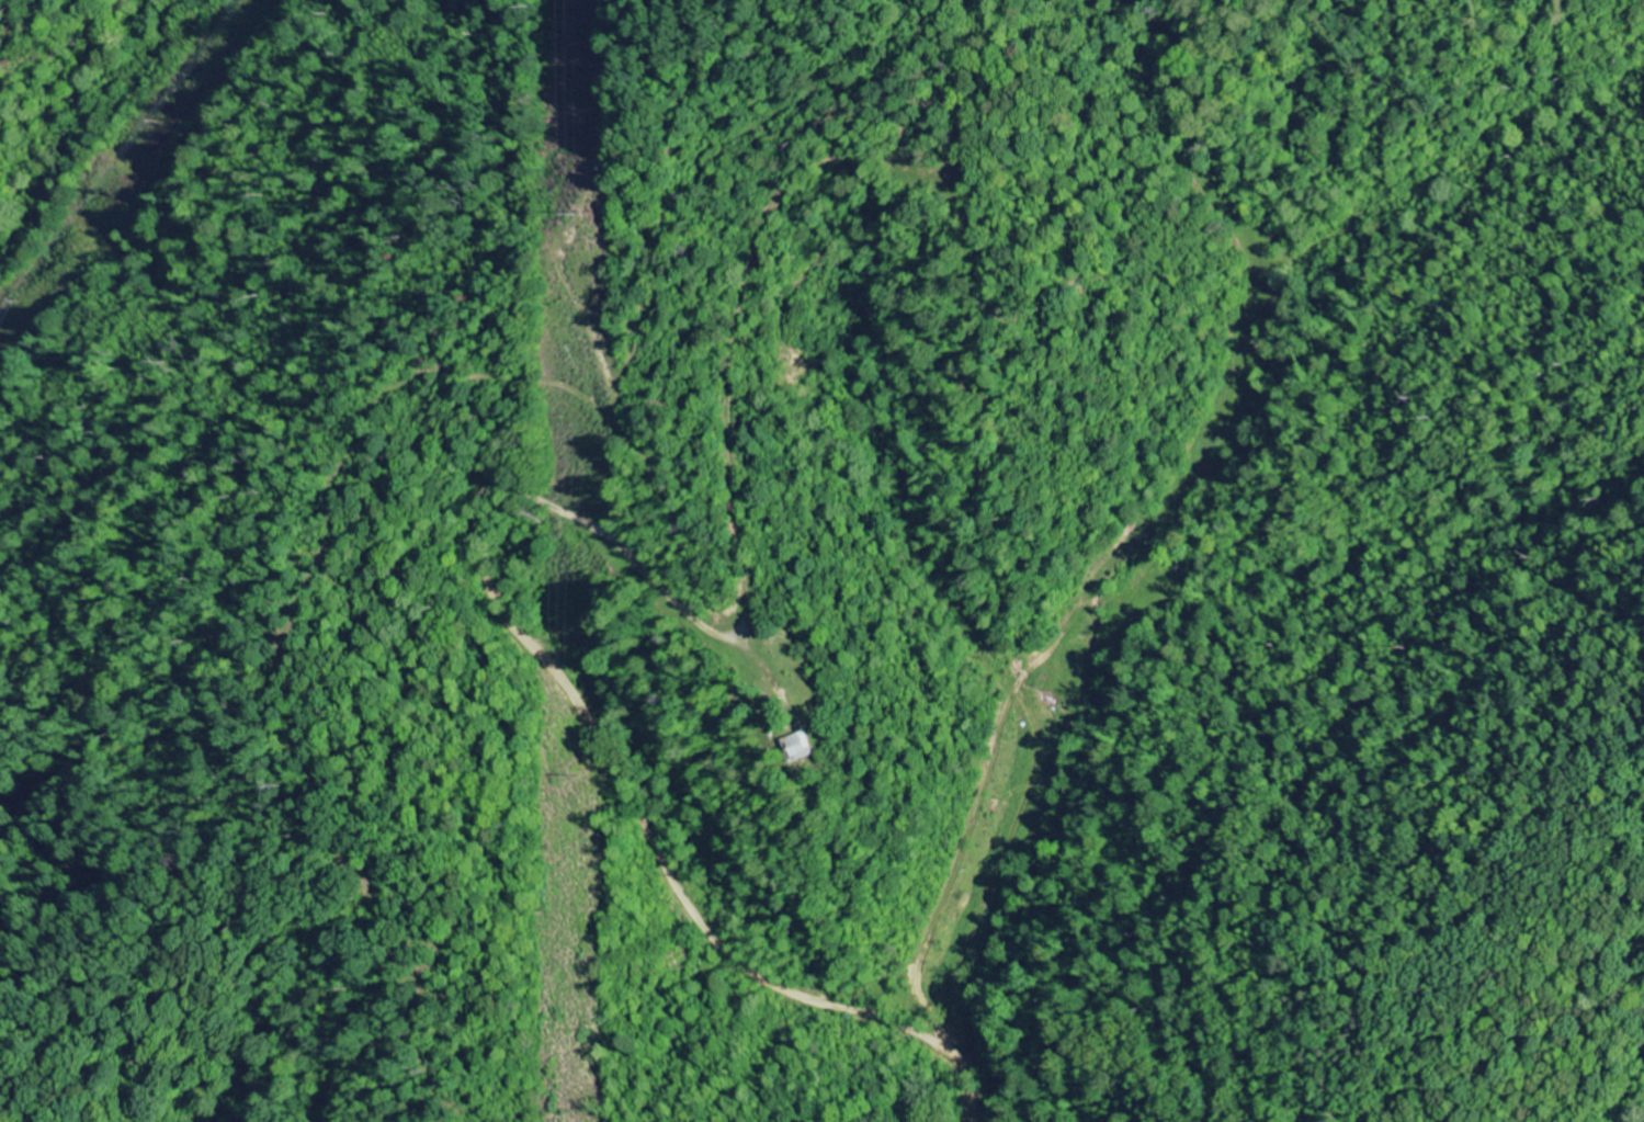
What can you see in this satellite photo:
power tower: (559, 215)
power tower: (559, 775)
road: (701, 923)

